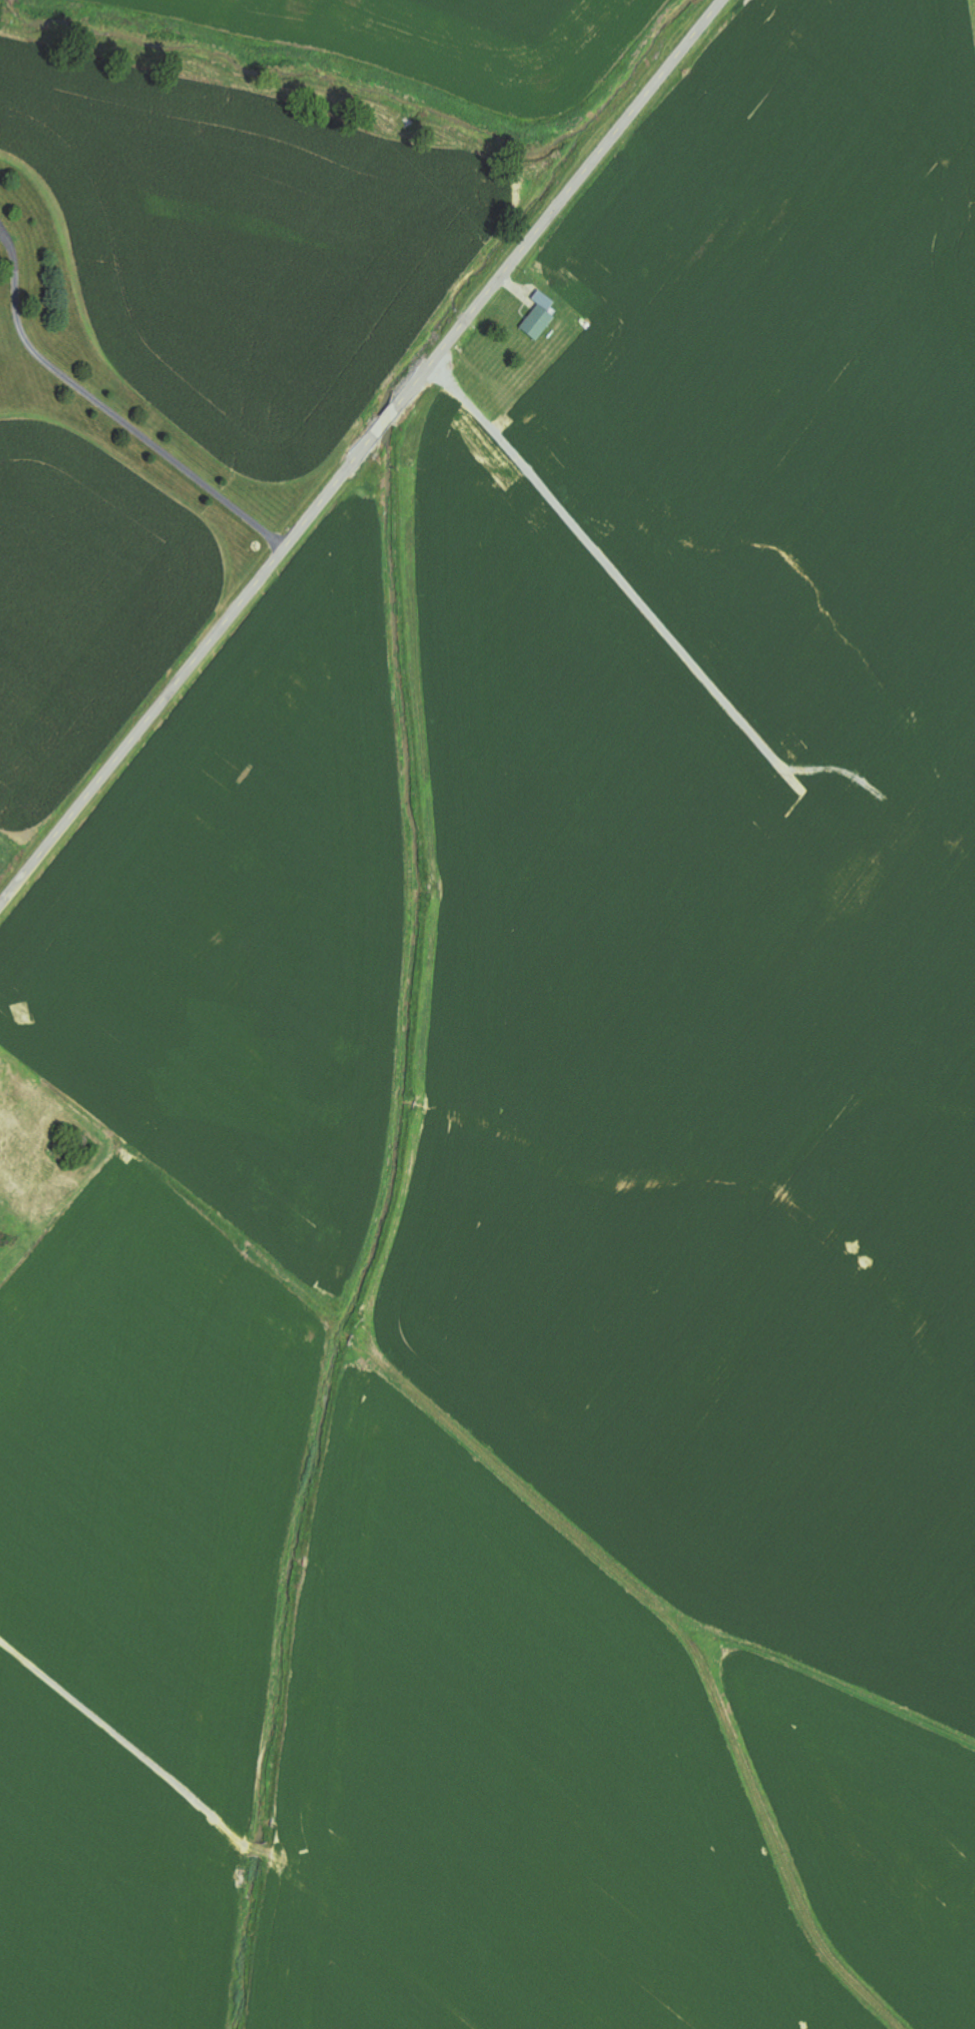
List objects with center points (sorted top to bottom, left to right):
building: (543, 320)
road: (108, 409)
road: (361, 452)

